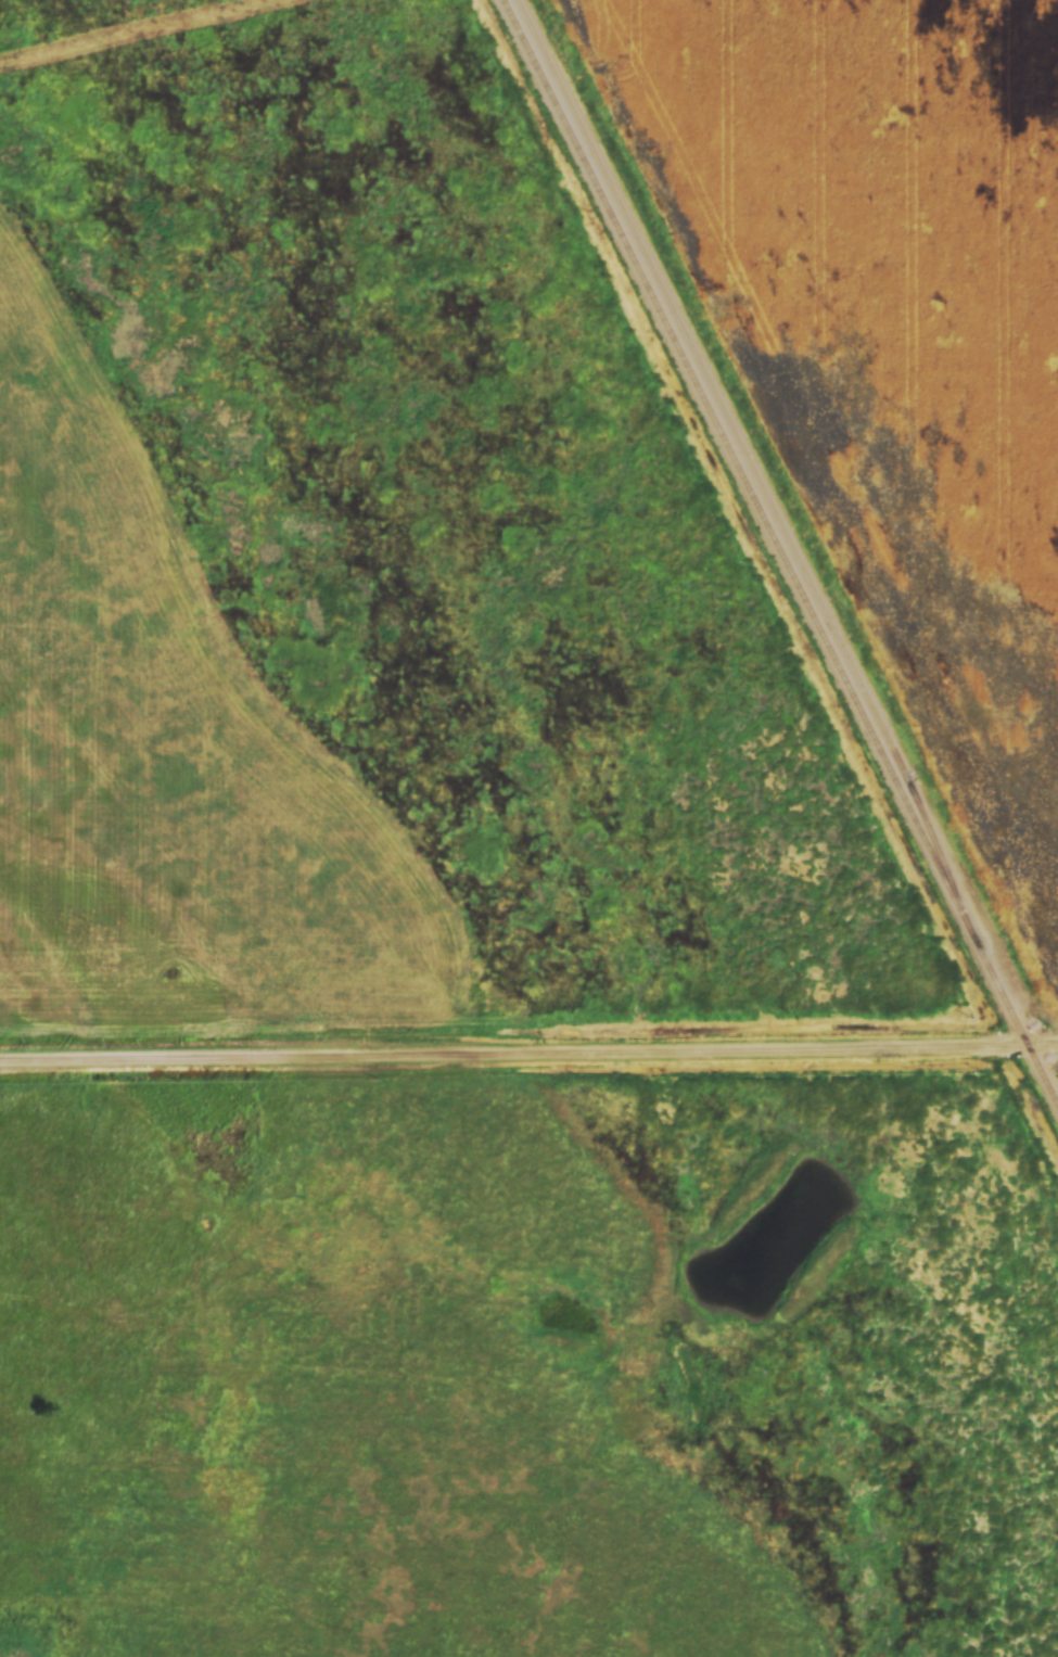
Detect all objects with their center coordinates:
railway: (748, 455)
railway: (782, 550)
road: (528, 1047)

